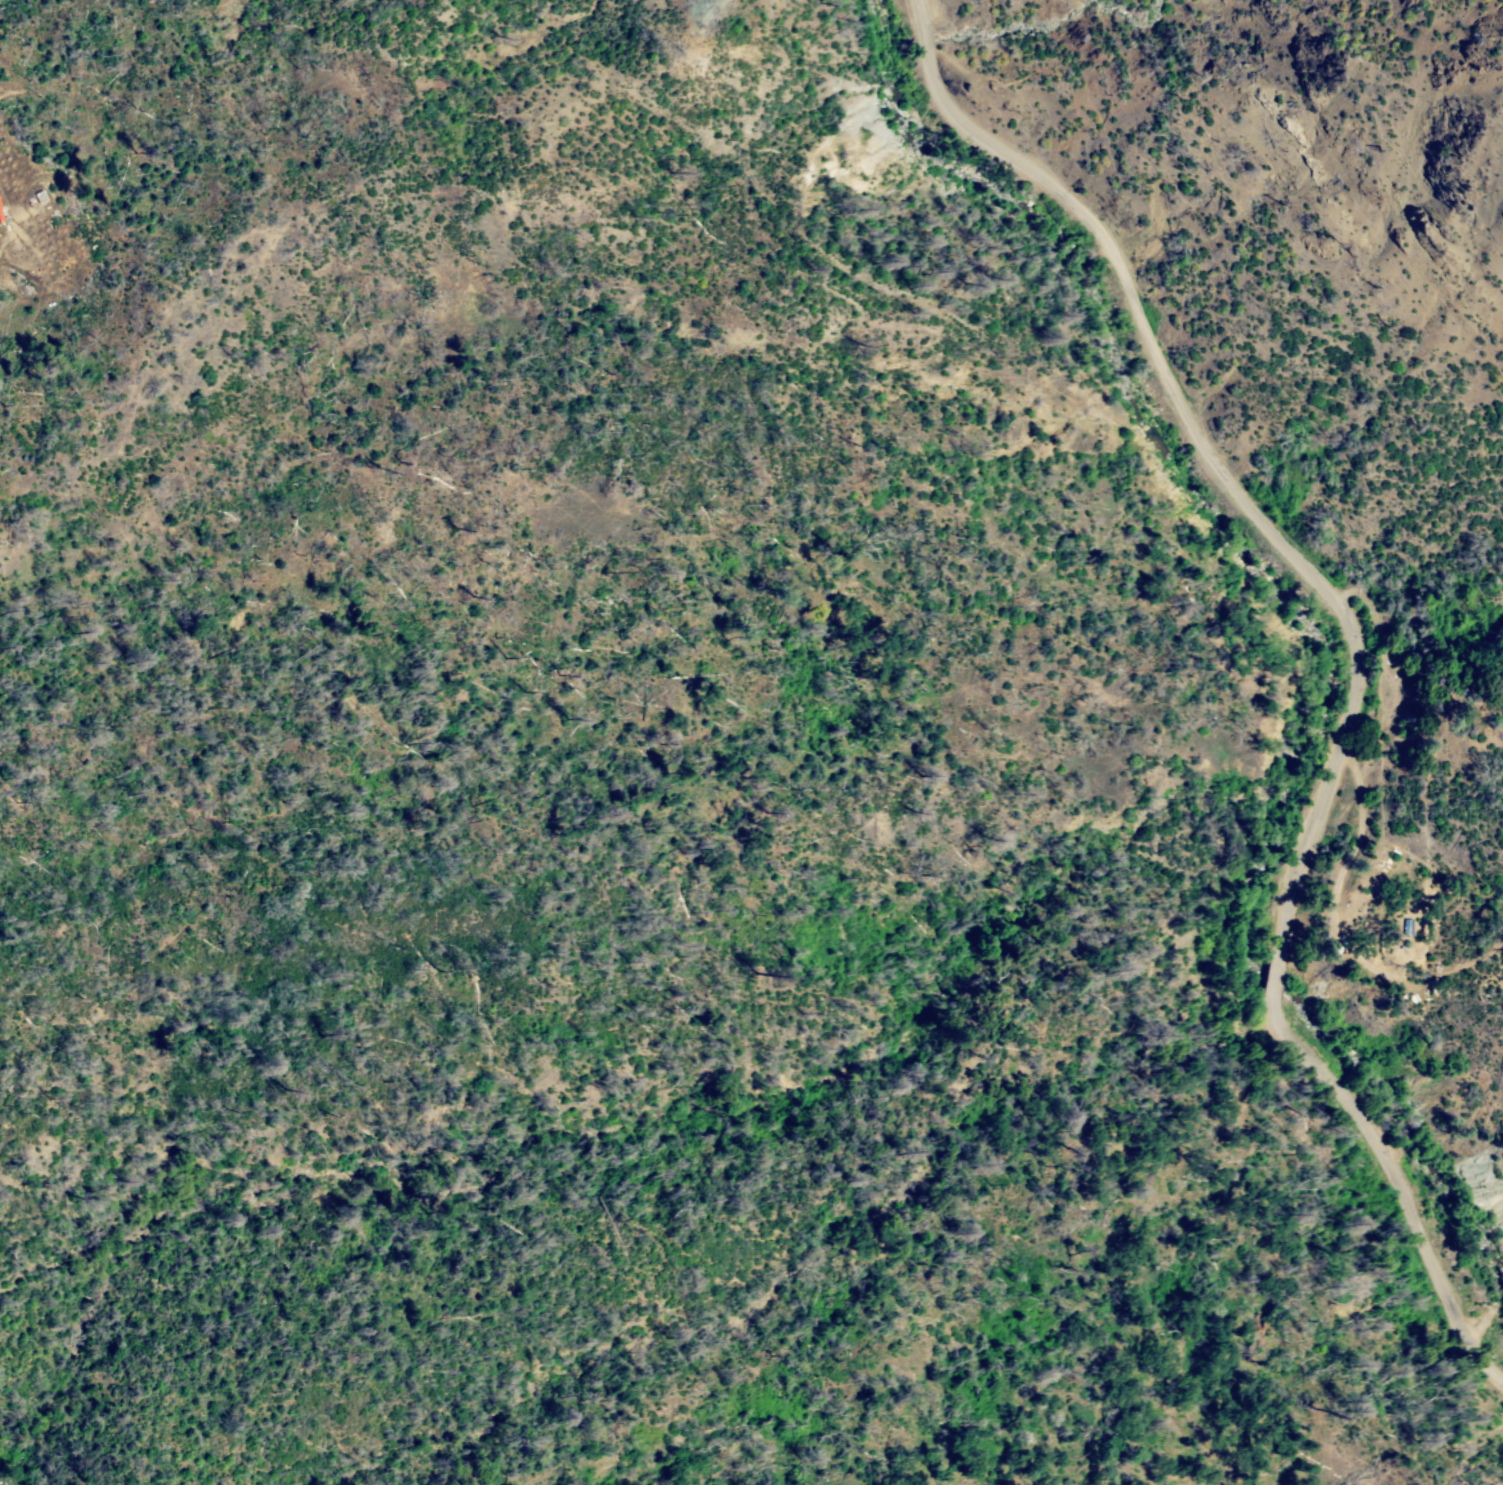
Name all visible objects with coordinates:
road: (1210, 447)
road: (1362, 881)
road: (1278, 973)
road: (1399, 1187)

